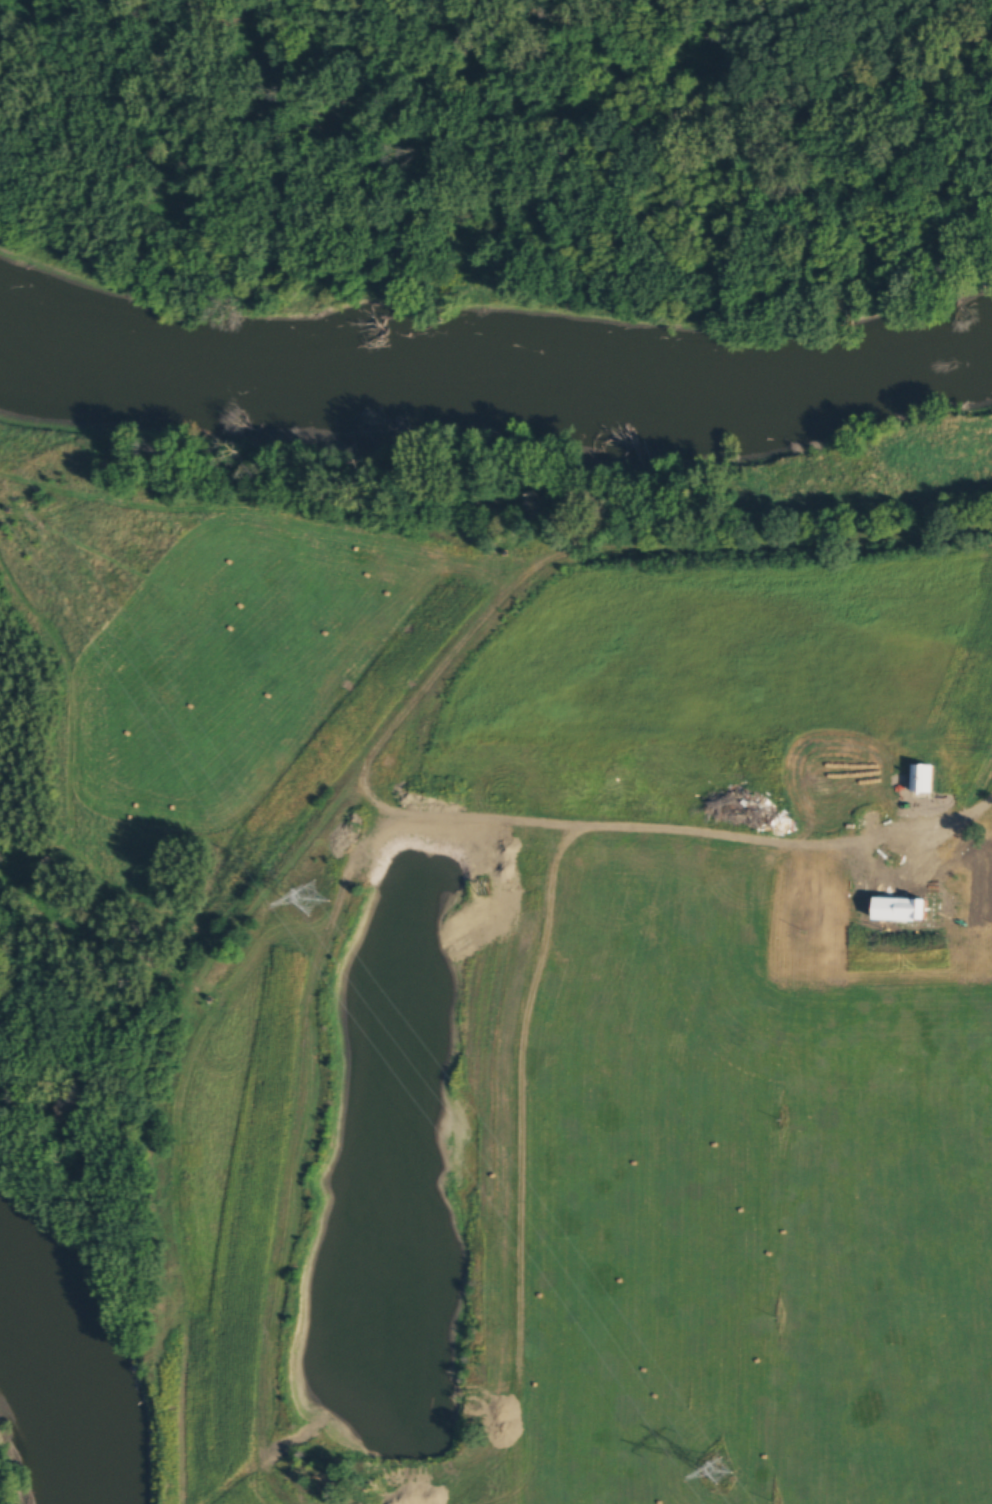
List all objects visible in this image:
river: (494, 383)
building: (820, 743)
building: (872, 755)
building: (384, 758)
building: (918, 776)
building: (959, 778)
road: (985, 802)
power tower: (307, 887)
river: (71, 1374)
power tower: (721, 1467)

